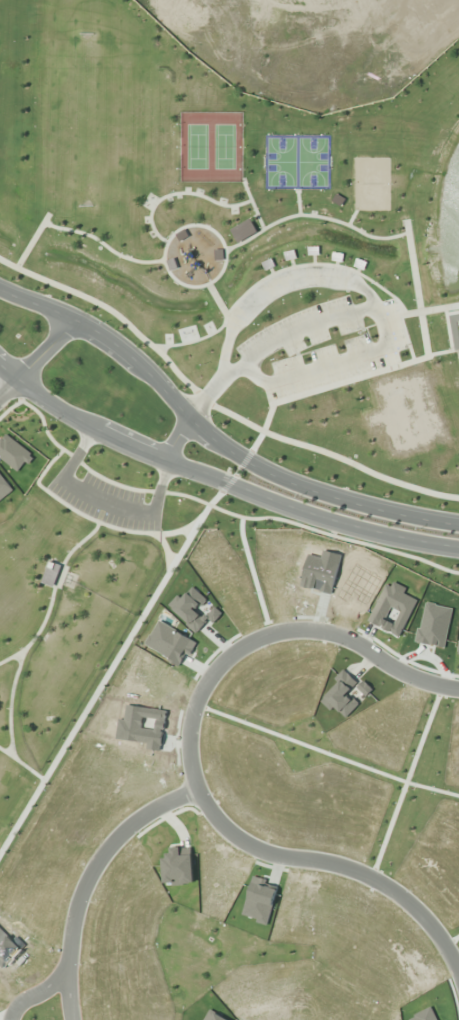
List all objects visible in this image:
park: (212, 145)
park: (297, 160)
park: (372, 183)
building: (342, 199)
building: (247, 225)
park: (243, 240)
building: (316, 249)
building: (292, 253)
building: (341, 255)
building: (271, 262)
building: (364, 263)
road: (45, 347)
parking lot: (324, 348)
road: (254, 366)
road: (7, 386)
road: (213, 404)
road: (213, 434)
road: (179, 439)
road: (248, 458)
road: (90, 469)
road: (240, 471)
road: (220, 480)
road: (230, 484)
parking lot: (107, 500)
road: (93, 519)
road: (335, 535)
road: (81, 542)
road: (168, 550)
building: (54, 570)
road: (254, 574)
park: (80, 596)
road: (272, 631)
road: (37, 633)
road: (110, 673)
road: (11, 704)
road: (325, 751)
road: (22, 763)
road: (407, 780)
road: (100, 861)
road: (339, 862)
road: (452, 941)
road: (54, 984)
road: (4, 1018)

